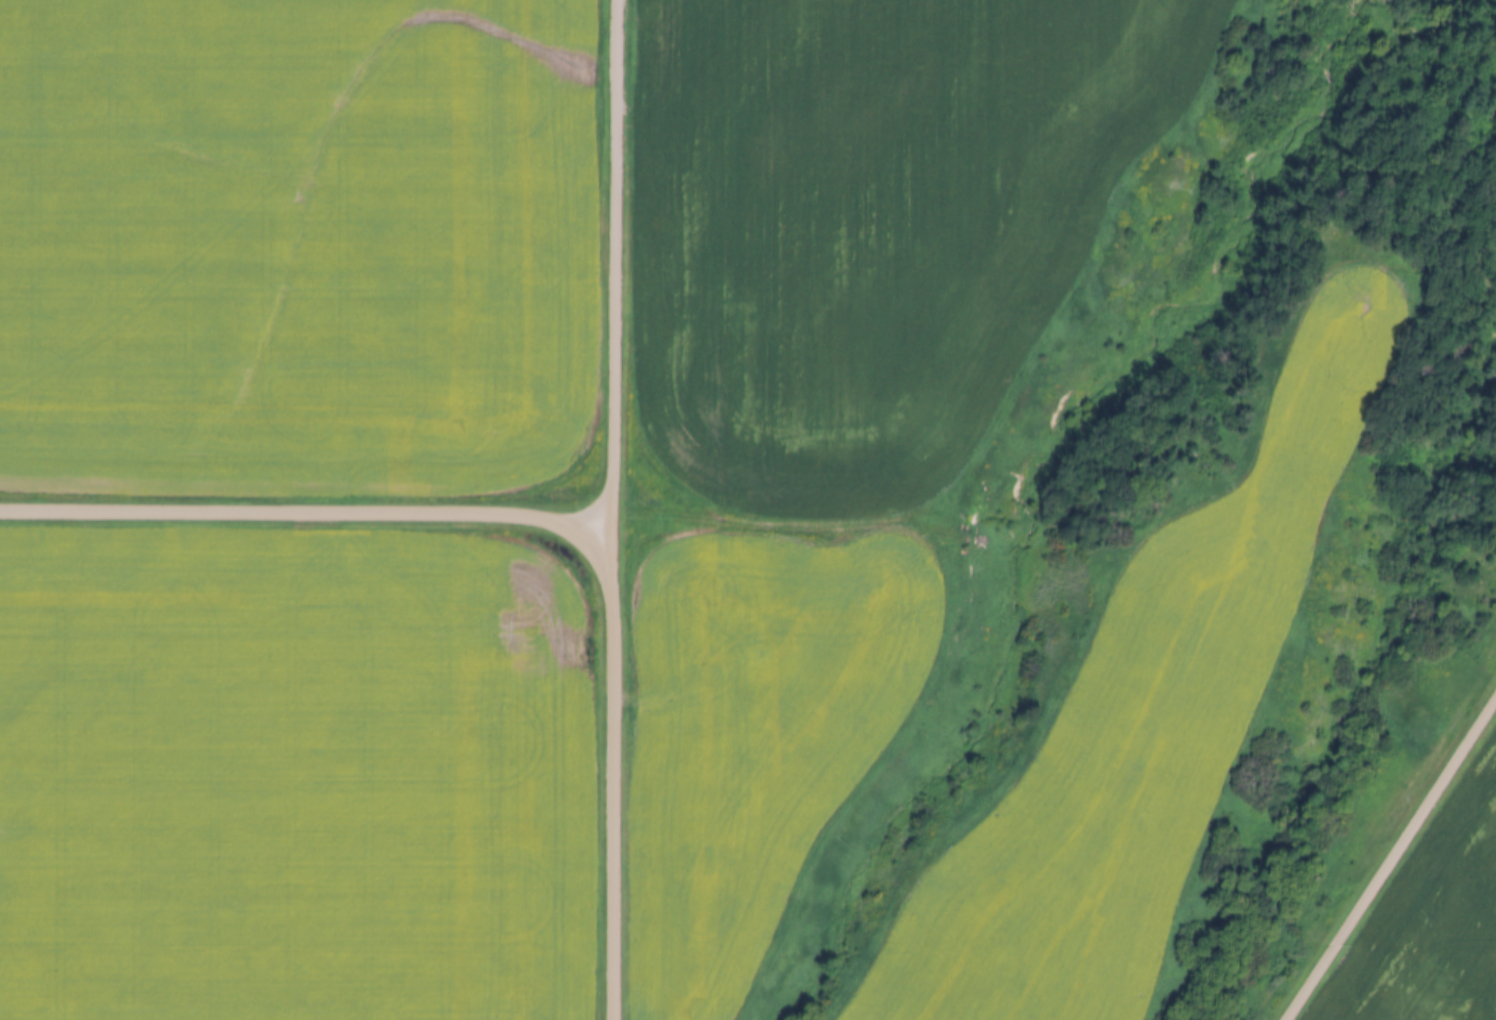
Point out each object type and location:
road: (622, 257)
road: (308, 510)
road: (619, 766)
road: (1392, 860)

